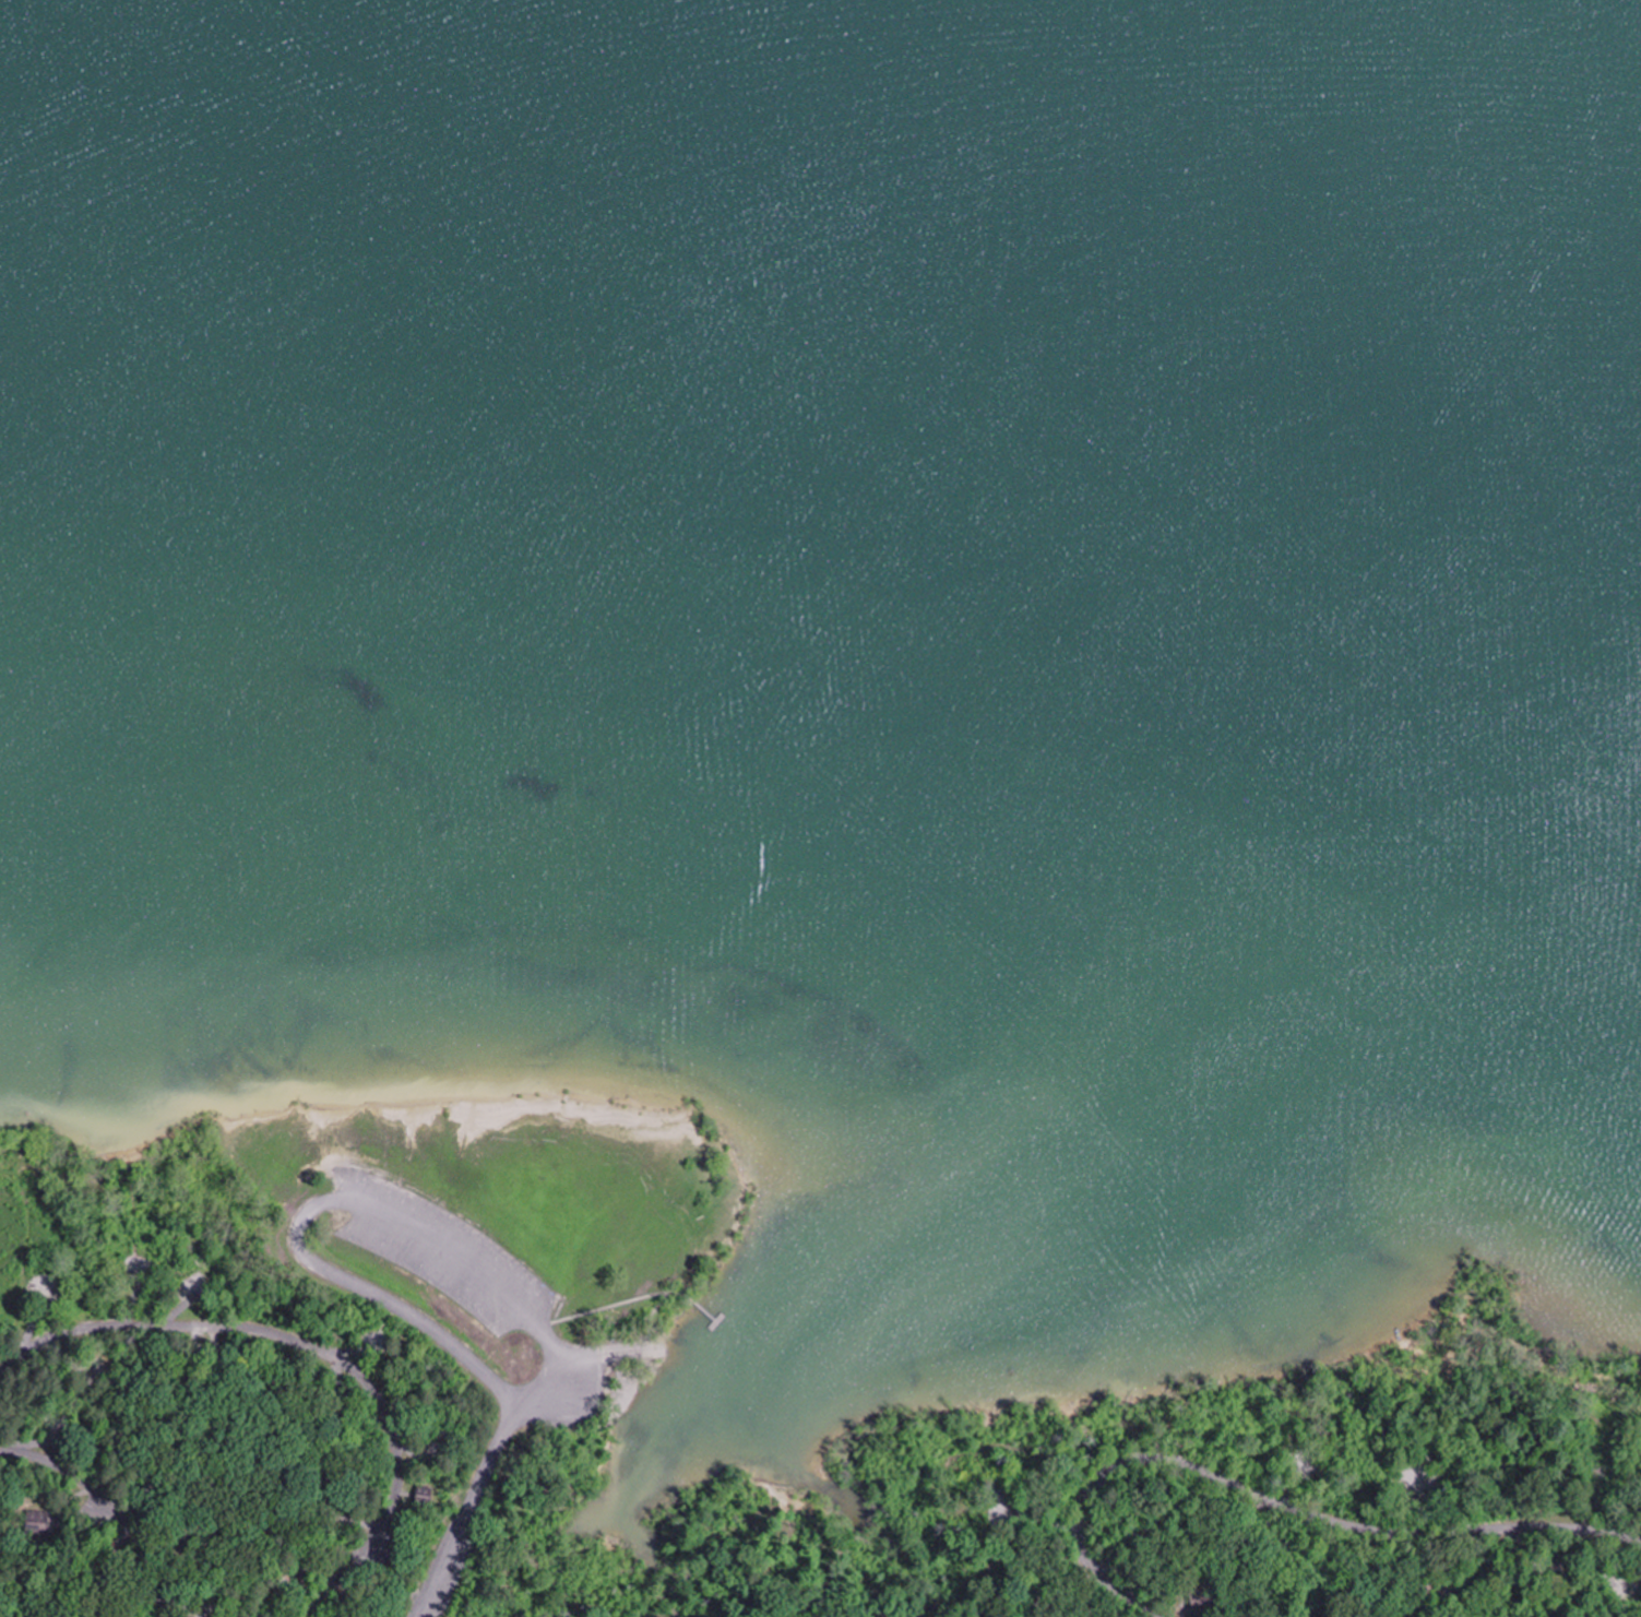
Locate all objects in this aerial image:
road: (345, 1203)
parking lot: (467, 1308)
road: (314, 1348)
road: (1102, 1485)
building: (420, 1494)
road: (466, 1515)
building: (34, 1522)
road: (1444, 1534)
building: (1197, 1596)

